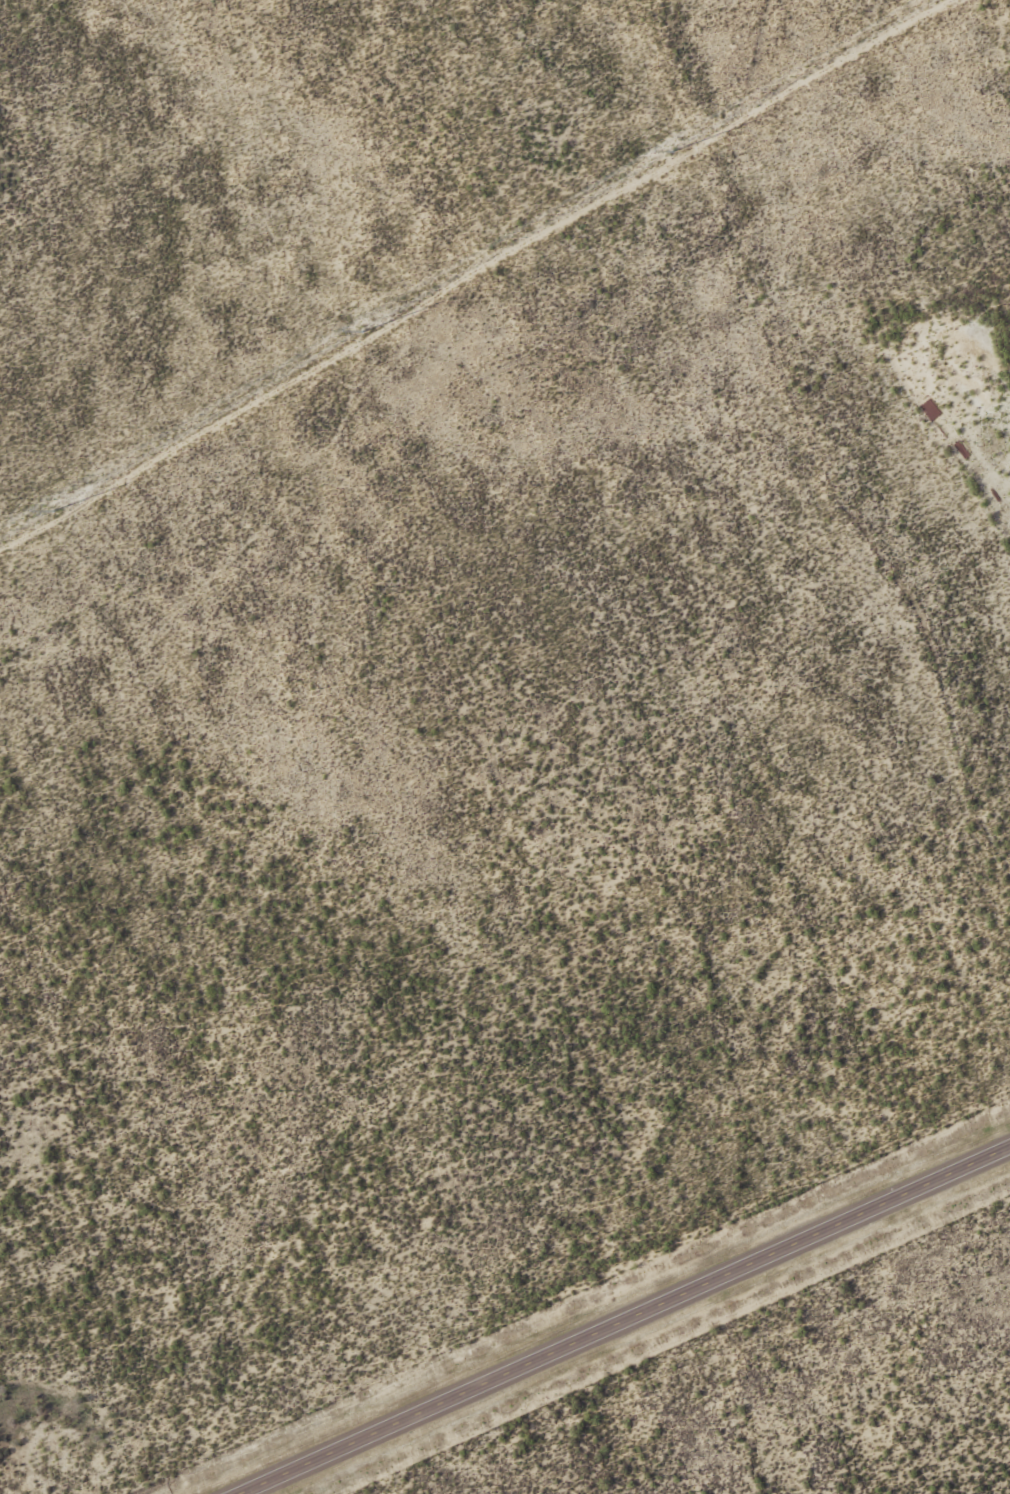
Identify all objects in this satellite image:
power tower: (672, 151)
power tower: (363, 330)
power tower: (49, 512)
road: (621, 1320)

